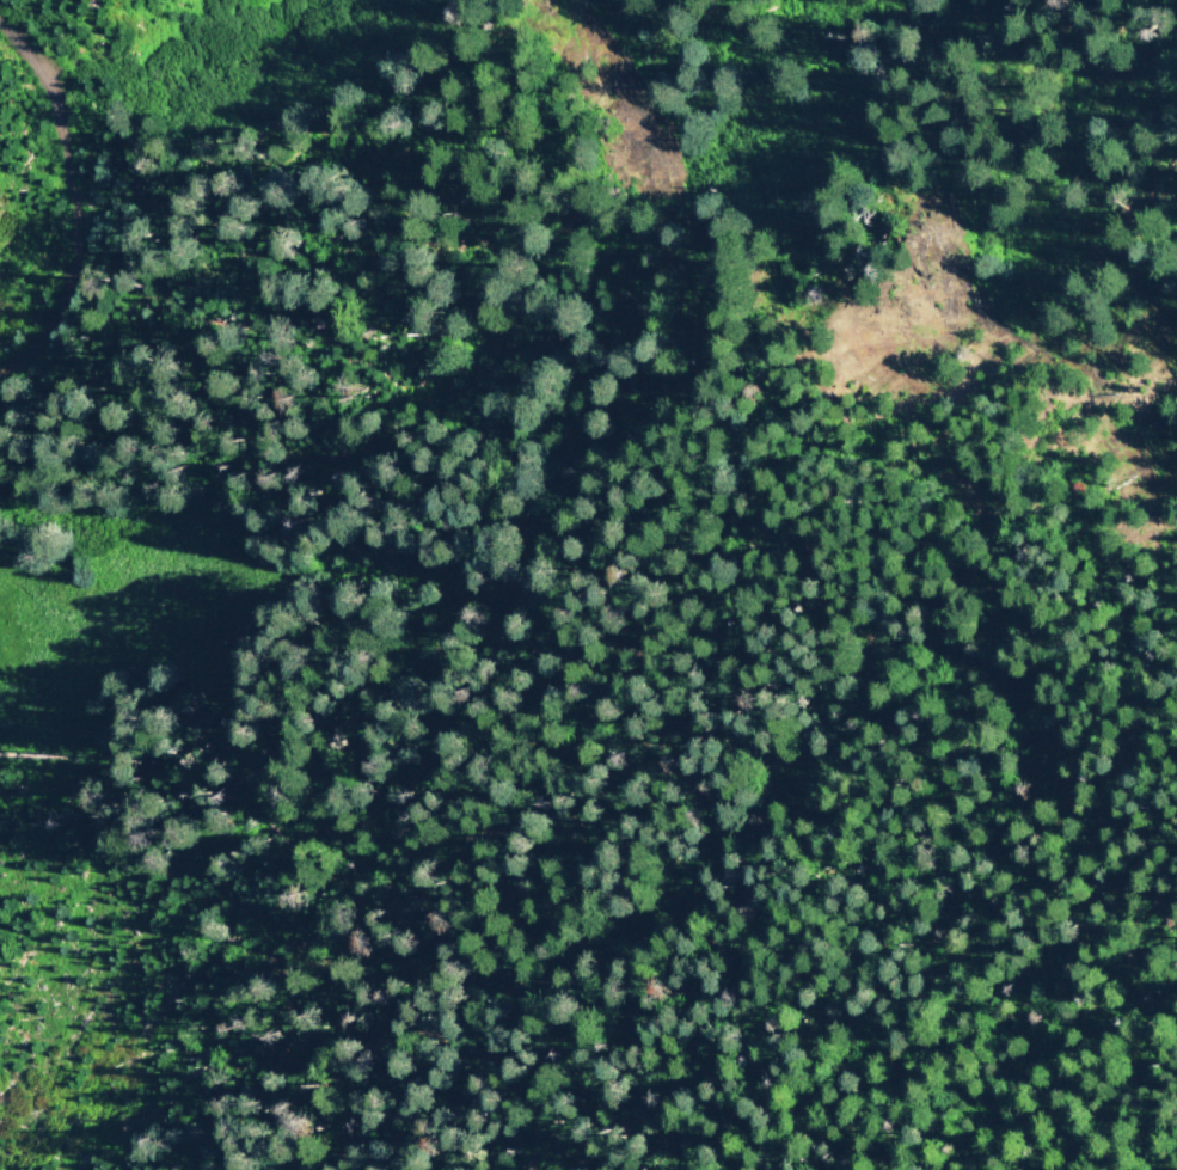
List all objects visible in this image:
road: (74, 200)

